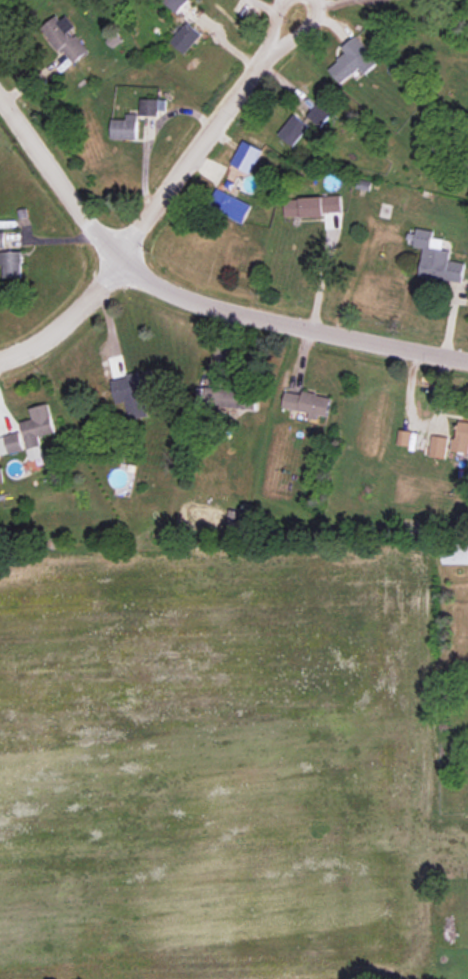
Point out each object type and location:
building: (175, 4)
road: (274, 24)
road: (300, 31)
building: (186, 37)
building: (66, 38)
building: (353, 60)
building: (152, 106)
building: (125, 127)
building: (293, 130)
road: (145, 134)
road: (193, 151)
building: (247, 156)
road: (43, 159)
building: (313, 205)
building: (235, 208)
building: (2, 239)
building: (437, 258)
building: (11, 263)
road: (320, 277)
road: (262, 318)
road: (68, 319)
building: (134, 392)
building: (230, 398)
building: (308, 403)
building: (37, 429)
building: (403, 437)
building: (461, 438)
building: (10, 443)
building: (438, 446)
building: (454, 555)

